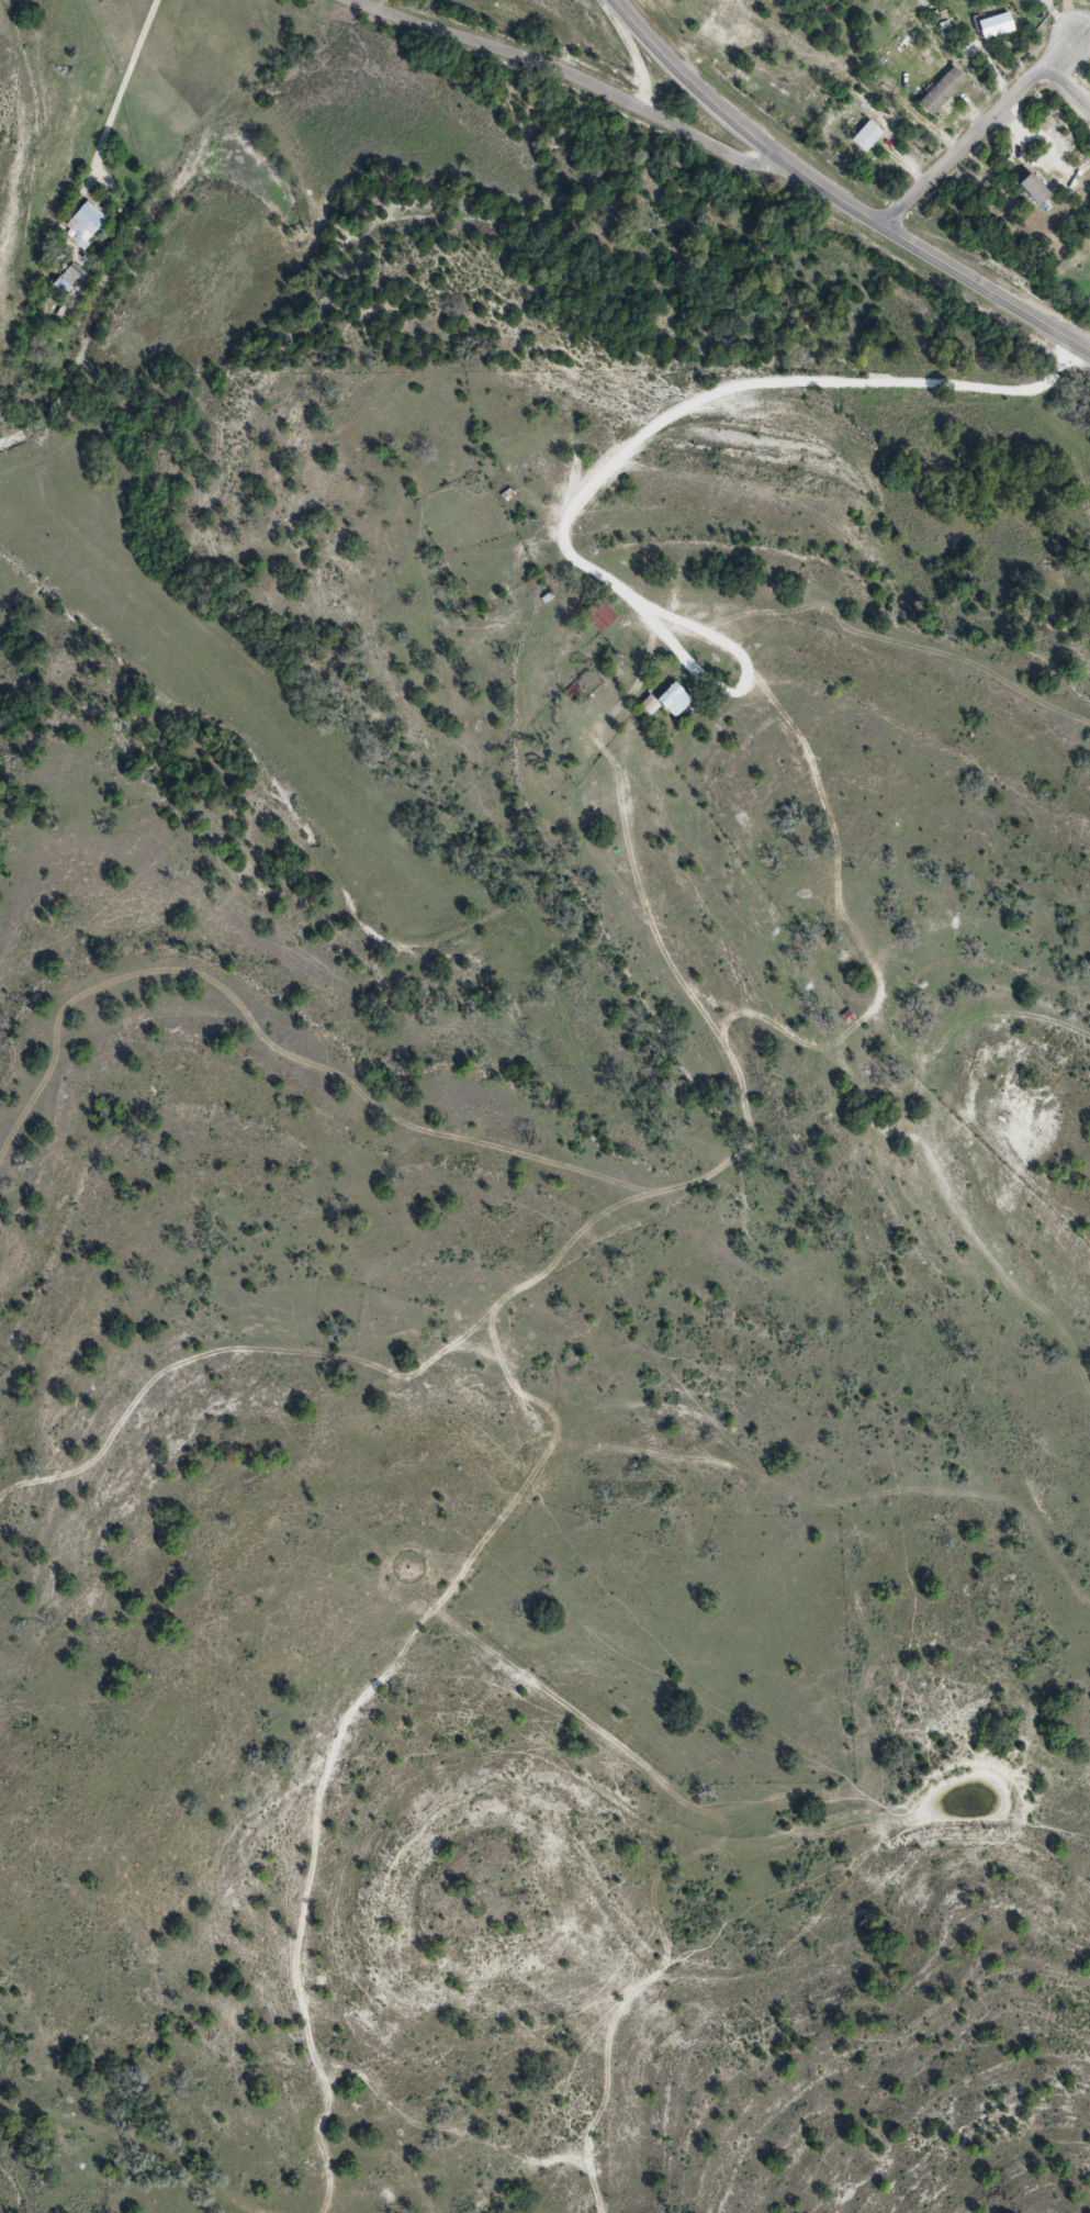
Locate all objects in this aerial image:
building: (996, 26)
road: (571, 76)
road: (135, 86)
road: (1066, 88)
building: (942, 91)
road: (979, 130)
building: (867, 136)
road: (1048, 139)
road: (1031, 167)
building: (1035, 190)
road: (835, 195)
building: (86, 223)
road: (617, 462)
building: (600, 616)
building: (670, 703)

